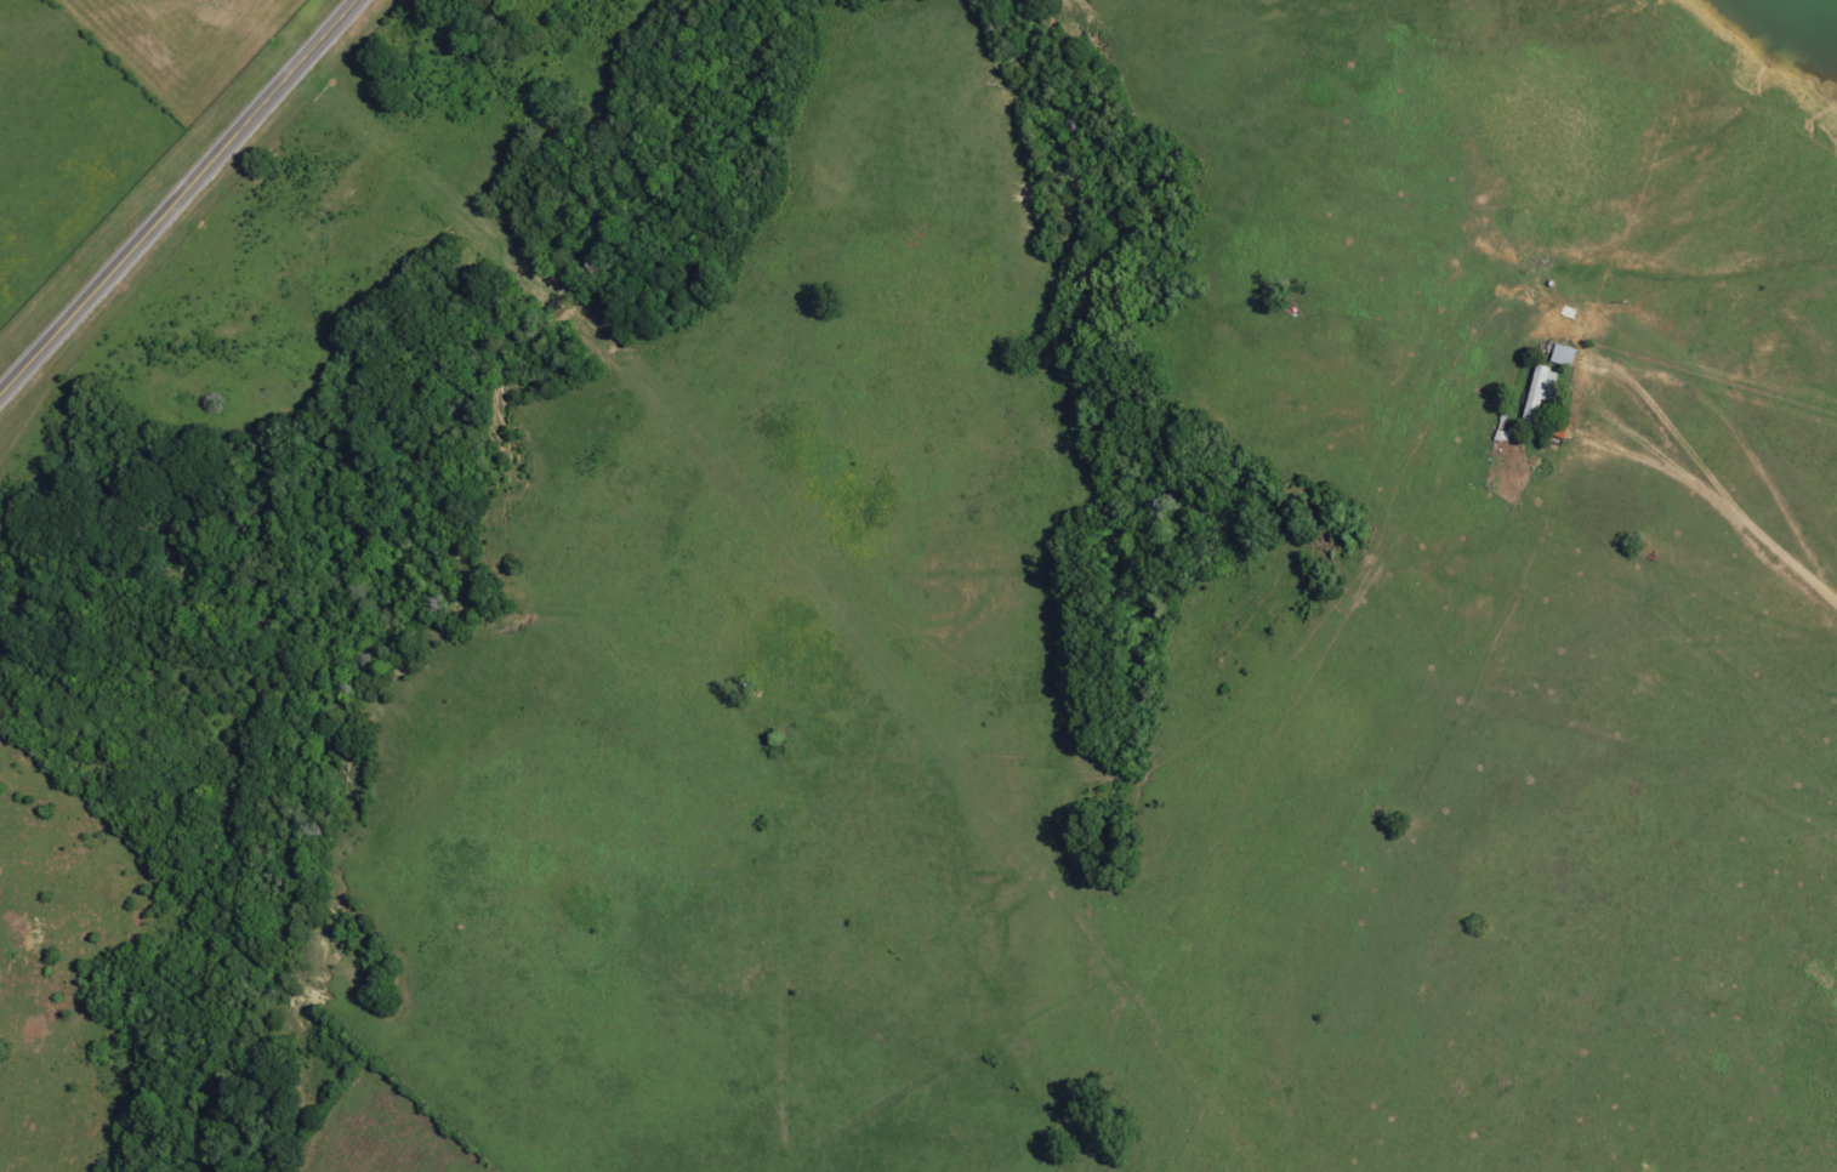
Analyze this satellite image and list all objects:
road: (180, 198)
building: (1539, 388)
road: (1721, 495)

